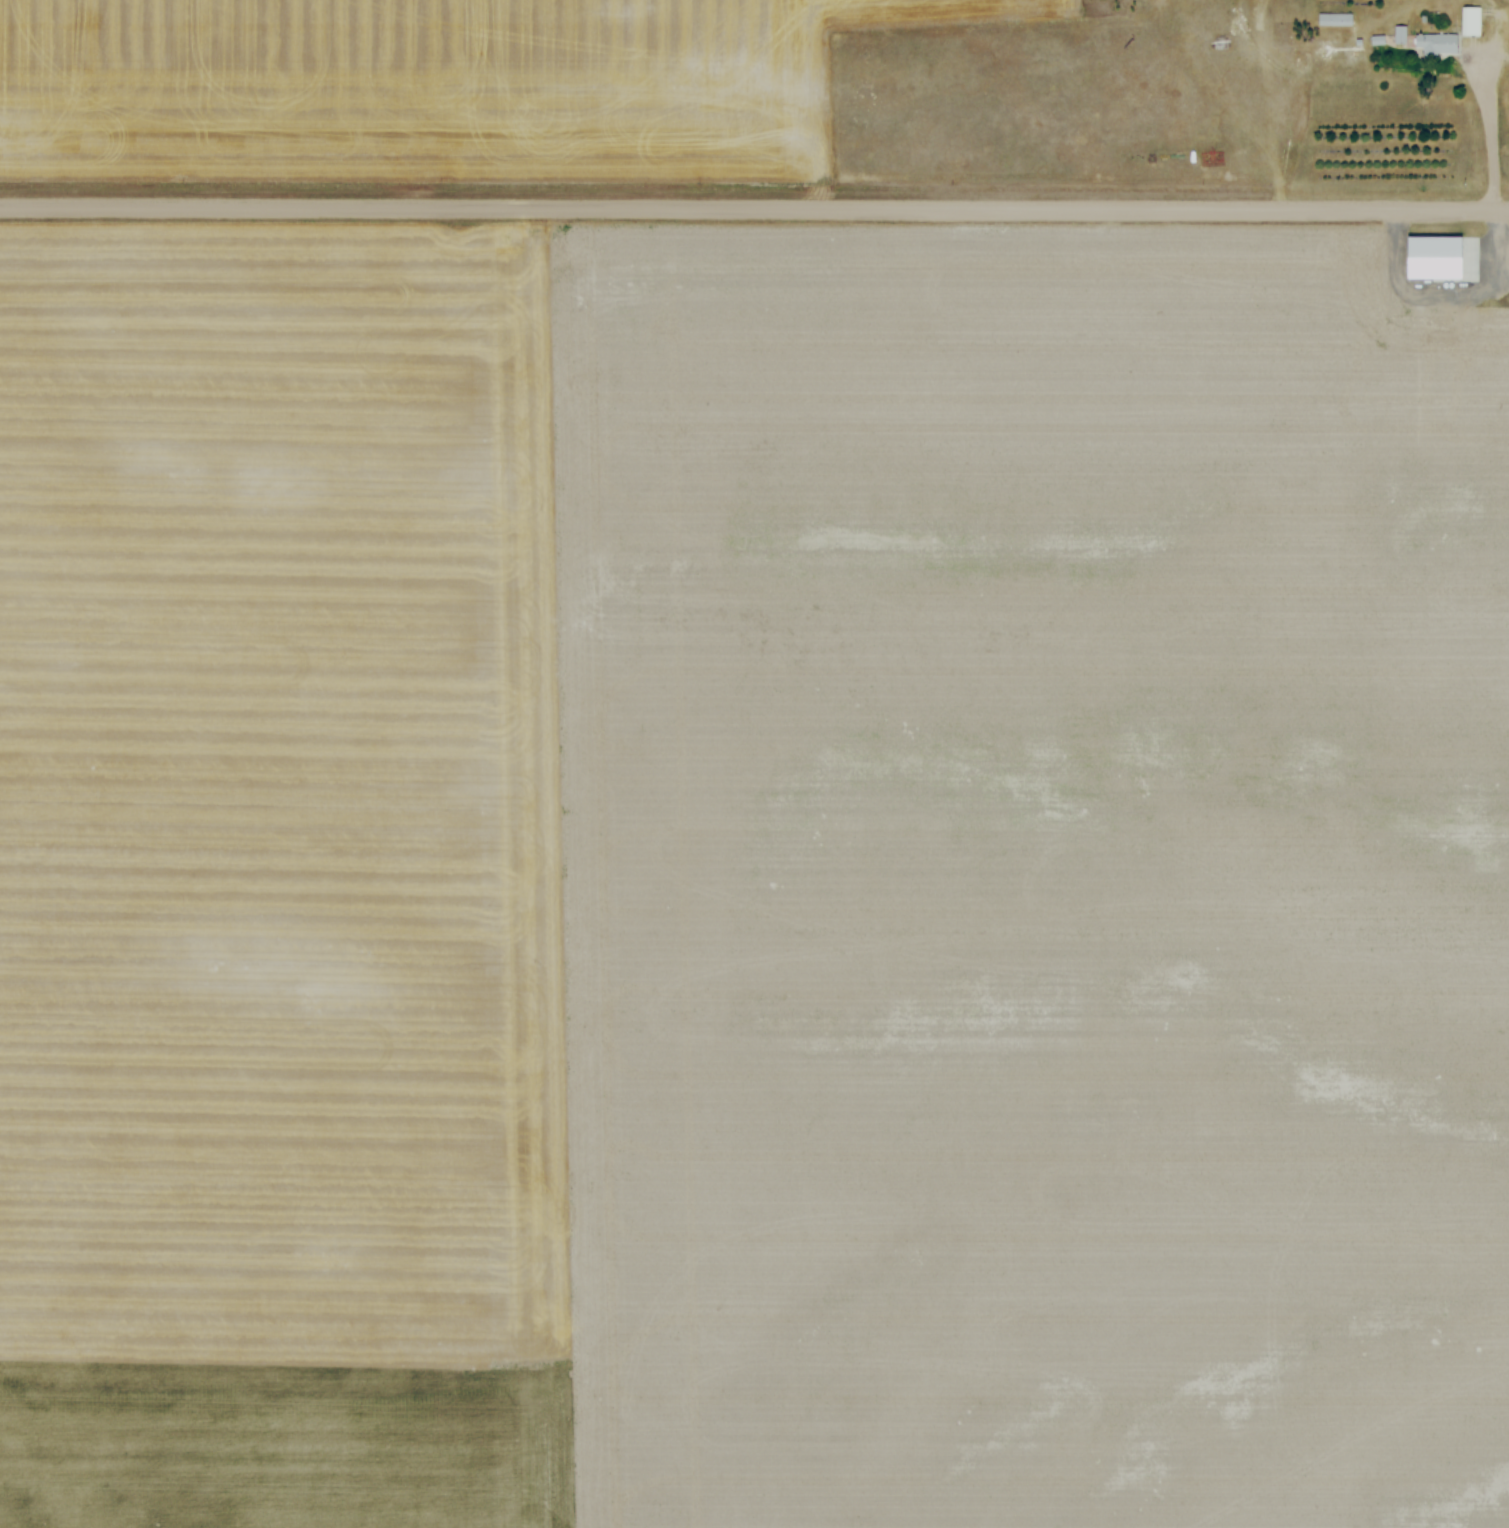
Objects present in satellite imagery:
building: (1335, 20)
building: (1473, 23)
building: (1400, 34)
building: (1379, 41)
building: (1435, 44)
crop: (431, 88)
road: (1490, 170)
road: (754, 209)
building: (1437, 251)
building: (1419, 273)
silo: (1419, 273)
building: (1439, 273)
silo: (1439, 273)
building: (1458, 273)
silo: (1458, 273)
building: (1445, 319)
silo: (1445, 319)
building: (1467, 320)
silo: (1467, 320)
crop: (750, 879)

